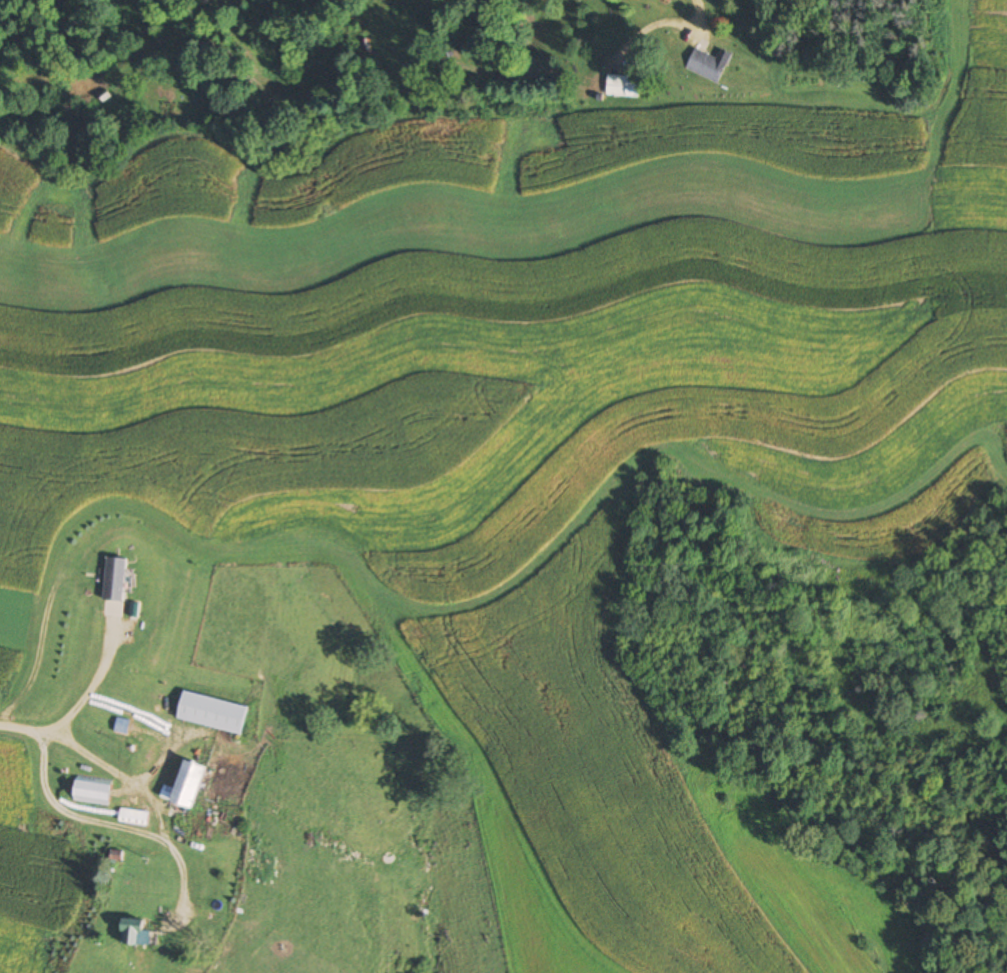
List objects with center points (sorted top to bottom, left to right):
road: (698, 9)
building: (706, 66)
building: (615, 86)
building: (114, 587)
road: (88, 686)
building: (213, 713)
road: (135, 785)
building: (186, 785)
building: (92, 791)
road: (67, 813)
building: (134, 817)
building: (134, 931)

